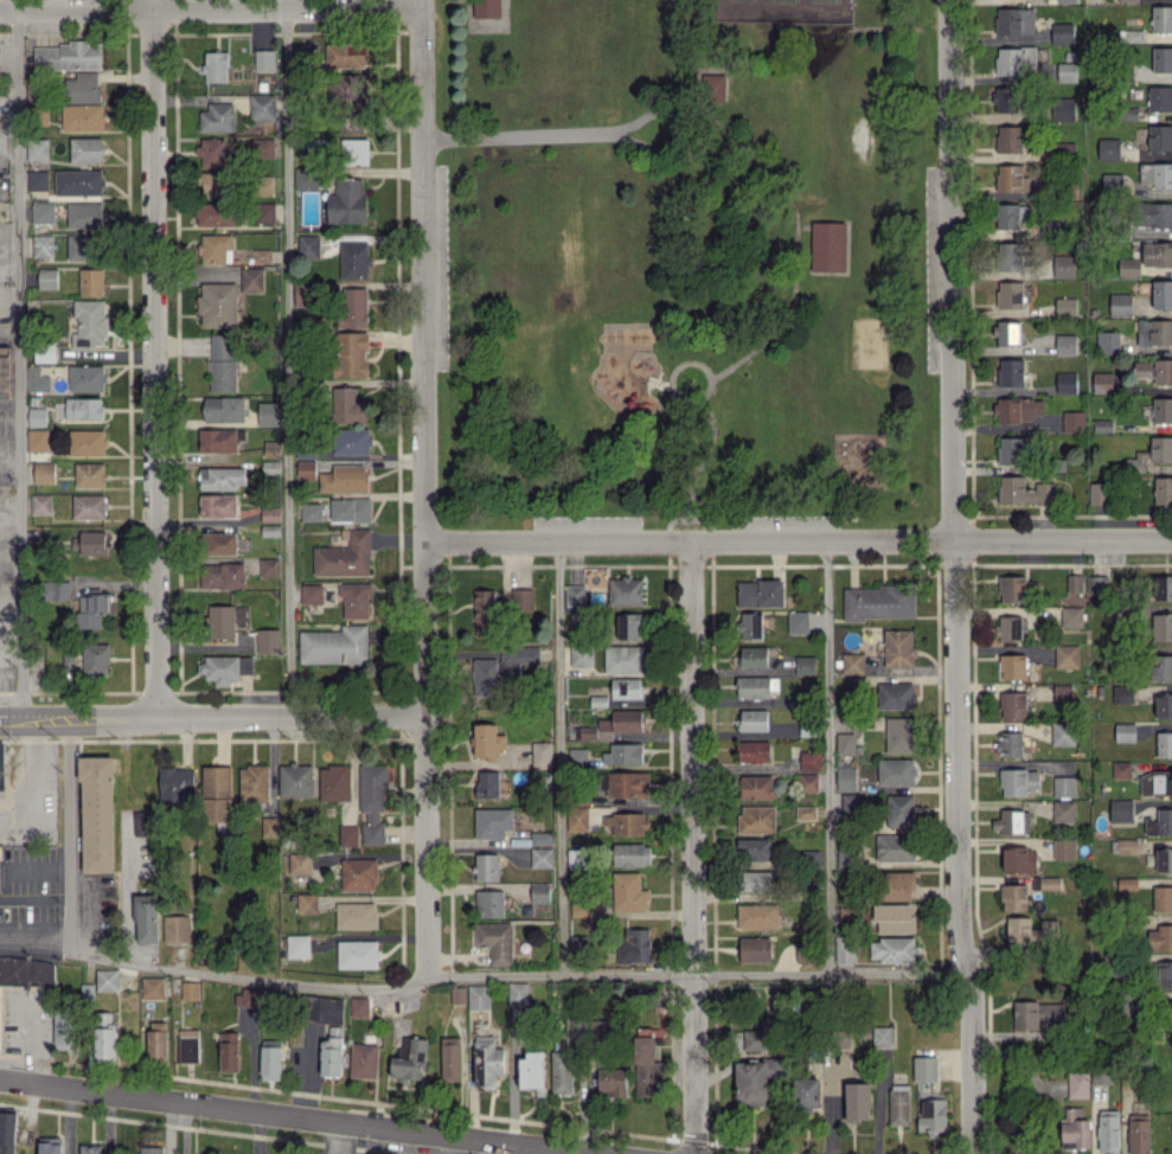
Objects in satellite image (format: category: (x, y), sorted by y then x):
building: (1128, 0)
building: (1065, 1)
road: (210, 7)
building: (486, 7)
park: (783, 9)
building: (1161, 19)
building: (1014, 20)
building: (1061, 33)
building: (1131, 34)
building: (347, 55)
building: (68, 56)
building: (305, 56)
building: (1161, 58)
building: (264, 59)
building: (1014, 60)
building: (216, 66)
building: (1067, 71)
building: (711, 86)
building: (83, 88)
building: (346, 88)
road: (687, 94)
building: (1006, 98)
building: (1160, 98)
building: (261, 107)
building: (1063, 109)
building: (83, 117)
building: (218, 117)
building: (350, 123)
building: (1160, 137)
building: (1008, 139)
building: (262, 147)
building: (38, 148)
building: (1108, 148)
building: (85, 149)
building: (354, 150)
road: (8, 152)
building: (212, 152)
building: (1157, 174)
building: (306, 178)
building: (1011, 178)
building: (38, 179)
building: (78, 181)
building: (214, 182)
building: (1112, 182)
building: (347, 201)
building: (43, 212)
building: (265, 212)
building: (84, 214)
building: (214, 214)
building: (1010, 214)
building: (1154, 214)
road: (796, 233)
road: (9, 236)
building: (43, 245)
building: (309, 245)
building: (826, 245)
building: (82, 246)
building: (216, 249)
building: (1157, 254)
building: (1010, 256)
building: (354, 259)
park: (685, 259)
building: (1063, 265)
building: (1129, 267)
building: (47, 277)
building: (251, 280)
building: (91, 281)
building: (1010, 294)
building: (1161, 294)
building: (217, 304)
building: (1064, 304)
building: (1120, 304)
building: (353, 307)
building: (89, 323)
building: (1006, 332)
building: (1154, 332)
building: (1108, 341)
park: (869, 344)
building: (1065, 344)
building: (45, 353)
building: (351, 353)
road: (19, 358)
road: (287, 358)
road: (153, 359)
building: (223, 363)
building: (1155, 370)
building: (1010, 372)
building: (5, 376)
building: (87, 378)
building: (37, 379)
building: (1065, 382)
building: (1102, 382)
road: (673, 385)
building: (347, 405)
building: (83, 406)
building: (224, 409)
building: (1019, 409)
building: (1161, 409)
building: (268, 413)
building: (37, 416)
building: (1072, 422)
building: (38, 440)
building: (218, 440)
building: (352, 441)
building: (87, 442)
building: (1011, 450)
building: (1152, 453)
road: (697, 466)
building: (306, 469)
building: (44, 472)
building: (90, 474)
building: (222, 477)
building: (344, 477)
road: (425, 488)
building: (1024, 491)
building: (1163, 491)
building: (1099, 493)
building: (41, 504)
building: (218, 505)
building: (89, 506)
building: (351, 508)
building: (310, 511)
road: (799, 538)
building: (92, 541)
building: (218, 543)
building: (344, 556)
building: (269, 566)
building: (222, 575)
road: (953, 577)
building: (1074, 583)
building: (1099, 584)
building: (1012, 588)
building: (1163, 588)
building: (56, 589)
building: (625, 590)
building: (310, 592)
building: (758, 592)
building: (575, 595)
building: (523, 598)
building: (356, 600)
building: (878, 602)
building: (91, 608)
building: (485, 611)
building: (1070, 616)
building: (219, 621)
building: (798, 622)
building: (628, 626)
building: (751, 626)
building: (1161, 627)
building: (1011, 628)
building: (268, 640)
building: (334, 645)
building: (898, 648)
building: (520, 654)
building: (581, 655)
building: (1065, 655)
building: (752, 656)
building: (95, 659)
building: (623, 659)
building: (68, 662)
building: (852, 662)
building: (803, 665)
building: (1012, 666)
building: (1163, 666)
building: (226, 667)
building: (485, 677)
building: (627, 687)
building: (752, 687)
building: (1062, 691)
building: (1122, 693)
building: (895, 695)
building: (1012, 704)
building: (1164, 705)
road: (212, 718)
building: (752, 719)
building: (622, 720)
building: (806, 727)
building: (588, 732)
building: (1125, 732)
building: (1062, 733)
building: (898, 735)
building: (487, 741)
building: (846, 744)
building: (1010, 744)
building: (1164, 744)
building: (754, 751)
building: (542, 754)
building: (623, 754)
road: (827, 755)
road: (559, 757)
building: (577, 757)
building: (809, 761)
building: (1, 767)
building: (1120, 769)
building: (895, 771)
building: (845, 776)
building: (295, 780)
building: (1018, 781)
building: (174, 782)
building: (254, 782)
building: (335, 782)
building: (807, 782)
building: (1155, 782)
building: (487, 783)
building: (625, 783)
building: (1063, 786)
building: (756, 787)
building: (216, 793)
building: (372, 801)
building: (899, 809)
building: (1063, 810)
building: (1120, 810)
building: (806, 812)
building: (97, 814)
building: (577, 818)
building: (756, 819)
building: (493, 821)
building: (1012, 821)
building: (625, 822)
building: (1159, 822)
building: (268, 826)
road: (68, 834)
building: (348, 834)
building: (542, 838)
building: (1123, 845)
road: (691, 846)
building: (895, 847)
building: (752, 848)
building: (1064, 848)
building: (632, 854)
building: (542, 857)
building: (576, 858)
building: (1018, 860)
building: (1164, 860)
building: (299, 863)
building: (486, 866)
building: (0, 874)
building: (358, 874)
building: (755, 880)
building: (1050, 884)
building: (1126, 884)
building: (897, 885)
road: (127, 892)
building: (628, 892)
building: (1013, 897)
building: (1163, 898)
building: (306, 903)
building: (489, 903)
building: (356, 915)
building: (756, 916)
building: (147, 917)
building: (891, 918)
building: (177, 929)
road: (33, 931)
building: (1030, 931)
building: (1160, 937)
building: (495, 941)
building: (634, 944)
building: (297, 945)
building: (754, 949)
building: (892, 949)
building: (358, 954)
building: (26, 970)
building: (1165, 974)
road: (515, 975)
building: (107, 979)
building: (152, 987)
building: (190, 989)
building: (88, 992)
building: (518, 992)
building: (457, 994)
building: (479, 996)
building: (246, 998)
building: (359, 1006)
building: (1168, 1012)
building: (1038, 1014)
building: (65, 1031)
building: (104, 1034)
building: (882, 1036)
building: (156, 1039)
building: (751, 1039)
building: (188, 1045)
building: (229, 1053)
building: (332, 1053)
building: (450, 1058)
building: (270, 1059)
building: (363, 1059)
building: (409, 1060)
building: (487, 1060)
building: (645, 1065)
building: (924, 1069)
building: (533, 1070)
building: (562, 1072)
building: (1101, 1076)
building: (613, 1081)
building: (752, 1081)
building: (1077, 1084)
building: (806, 1094)
building: (857, 1101)
building: (898, 1104)
building: (931, 1116)
road: (300, 1117)
building: (1075, 1128)
building: (1108, 1130)
building: (7, 1131)
building: (1139, 1133)
road: (337, 1139)
building: (50, 1145)
building: (91, 1148)
building: (150, 1149)
road: (530, 1149)

